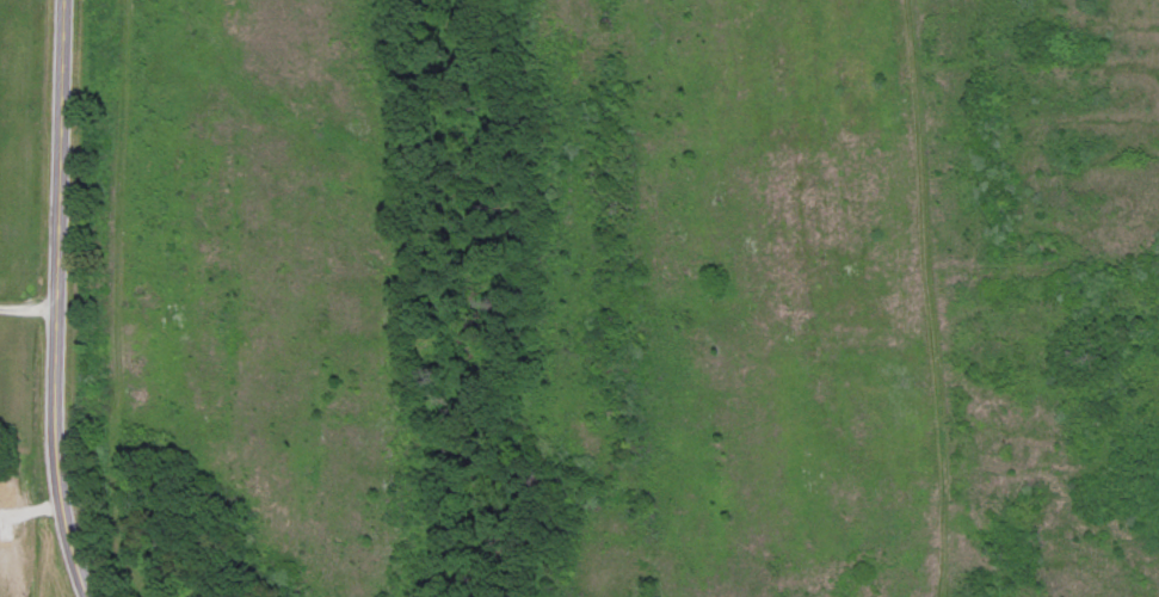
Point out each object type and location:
park: (618, 297)
road: (55, 300)
road: (27, 309)

